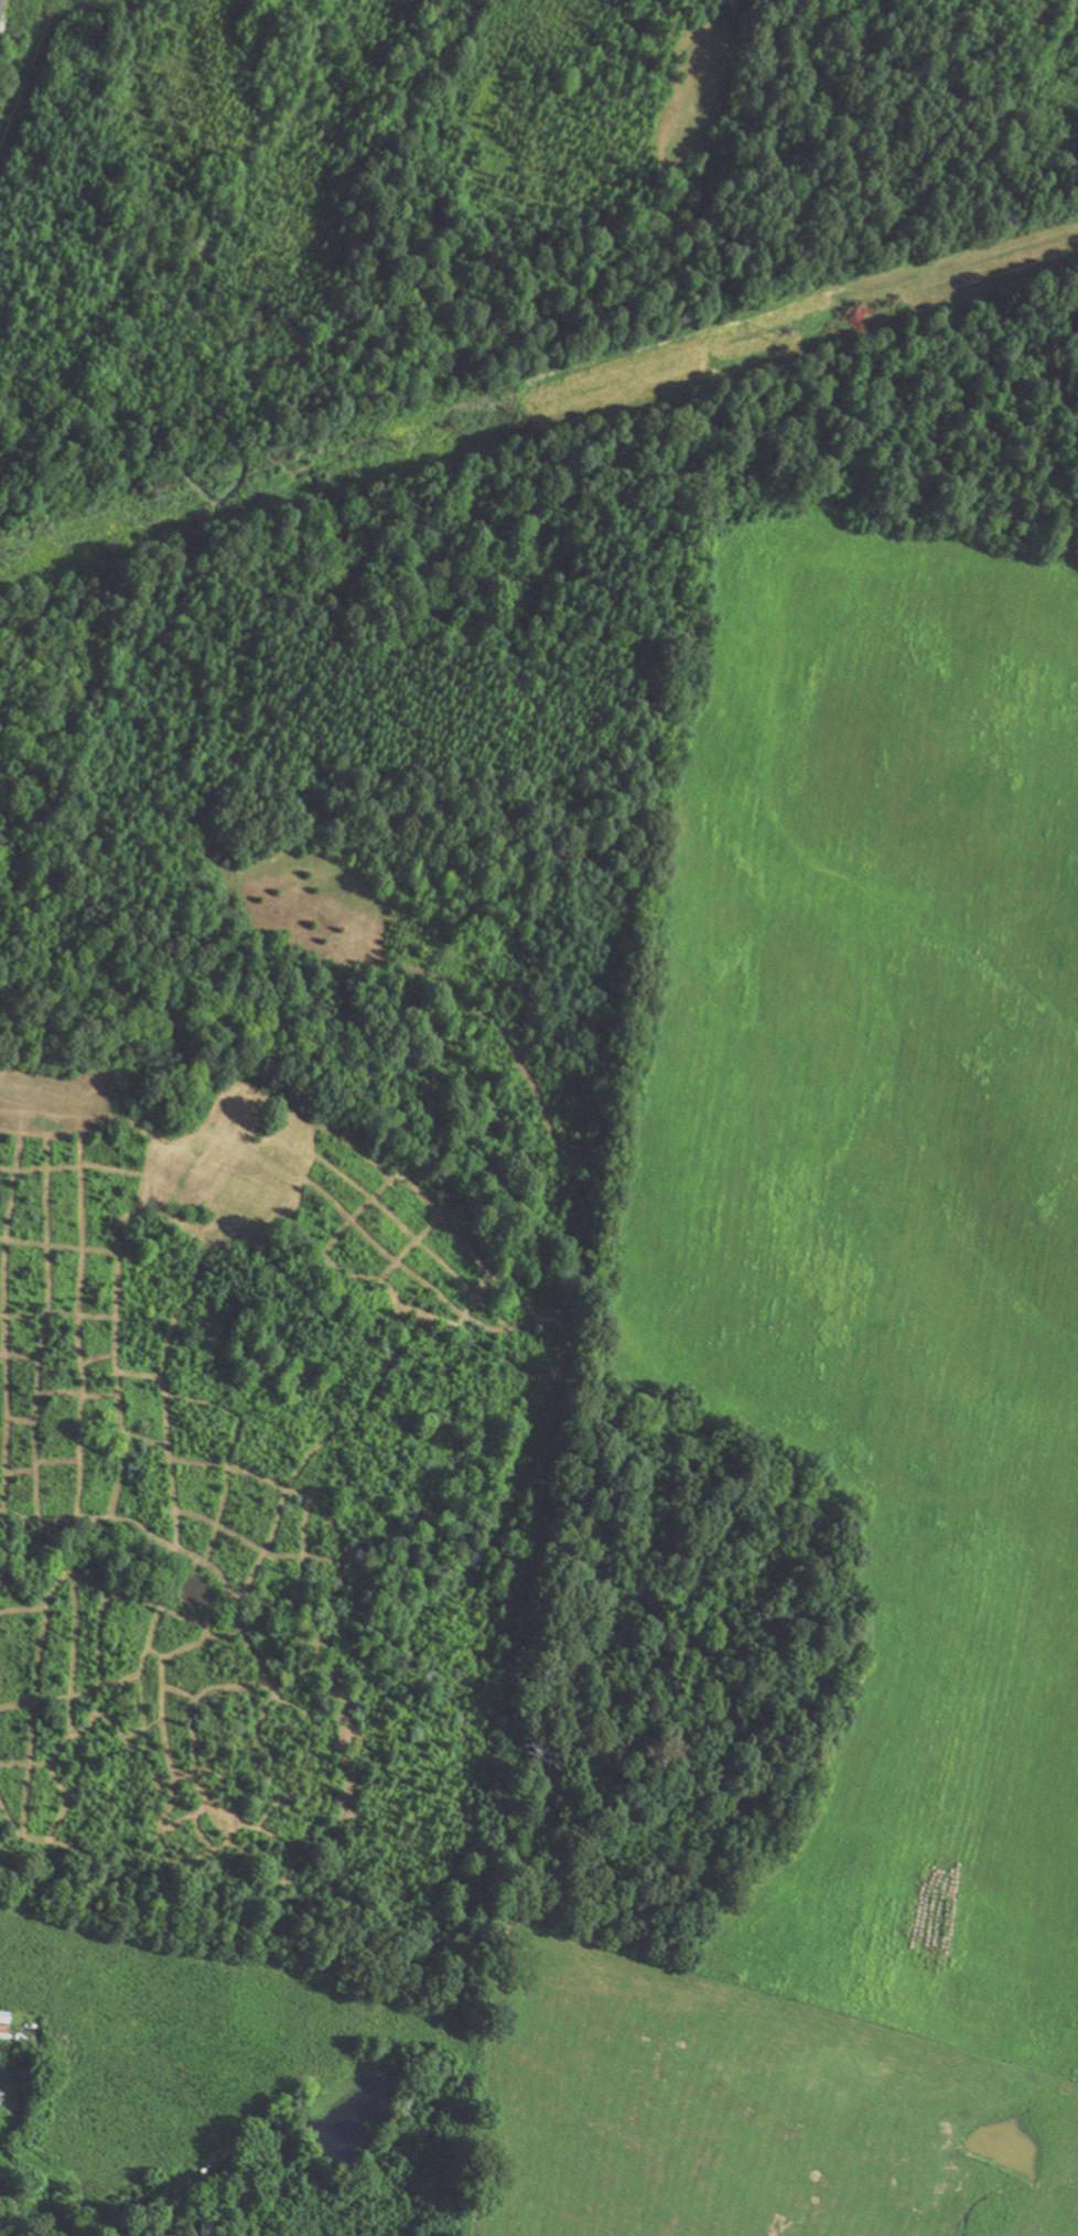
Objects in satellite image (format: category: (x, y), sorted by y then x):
road: (0, 0)
building: (24, 2115)

